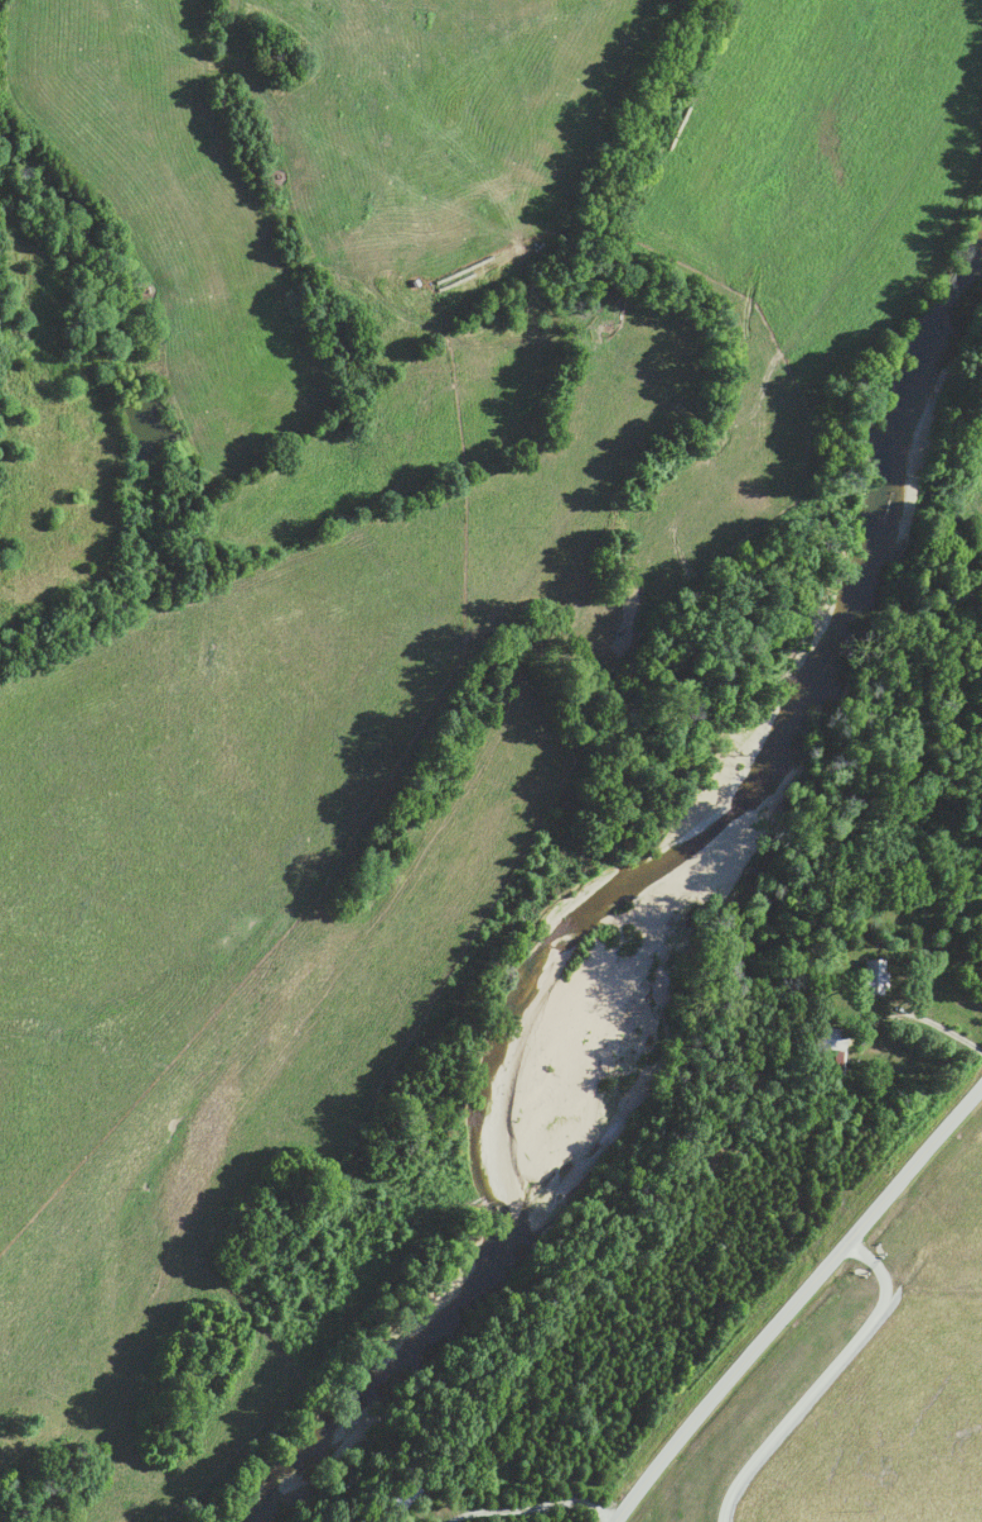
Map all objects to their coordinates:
crop: (799, 235)
river: (618, 884)
building: (870, 975)
road: (911, 1012)
building: (827, 1040)
road: (794, 1302)
building: (398, 1498)
road: (531, 1503)

